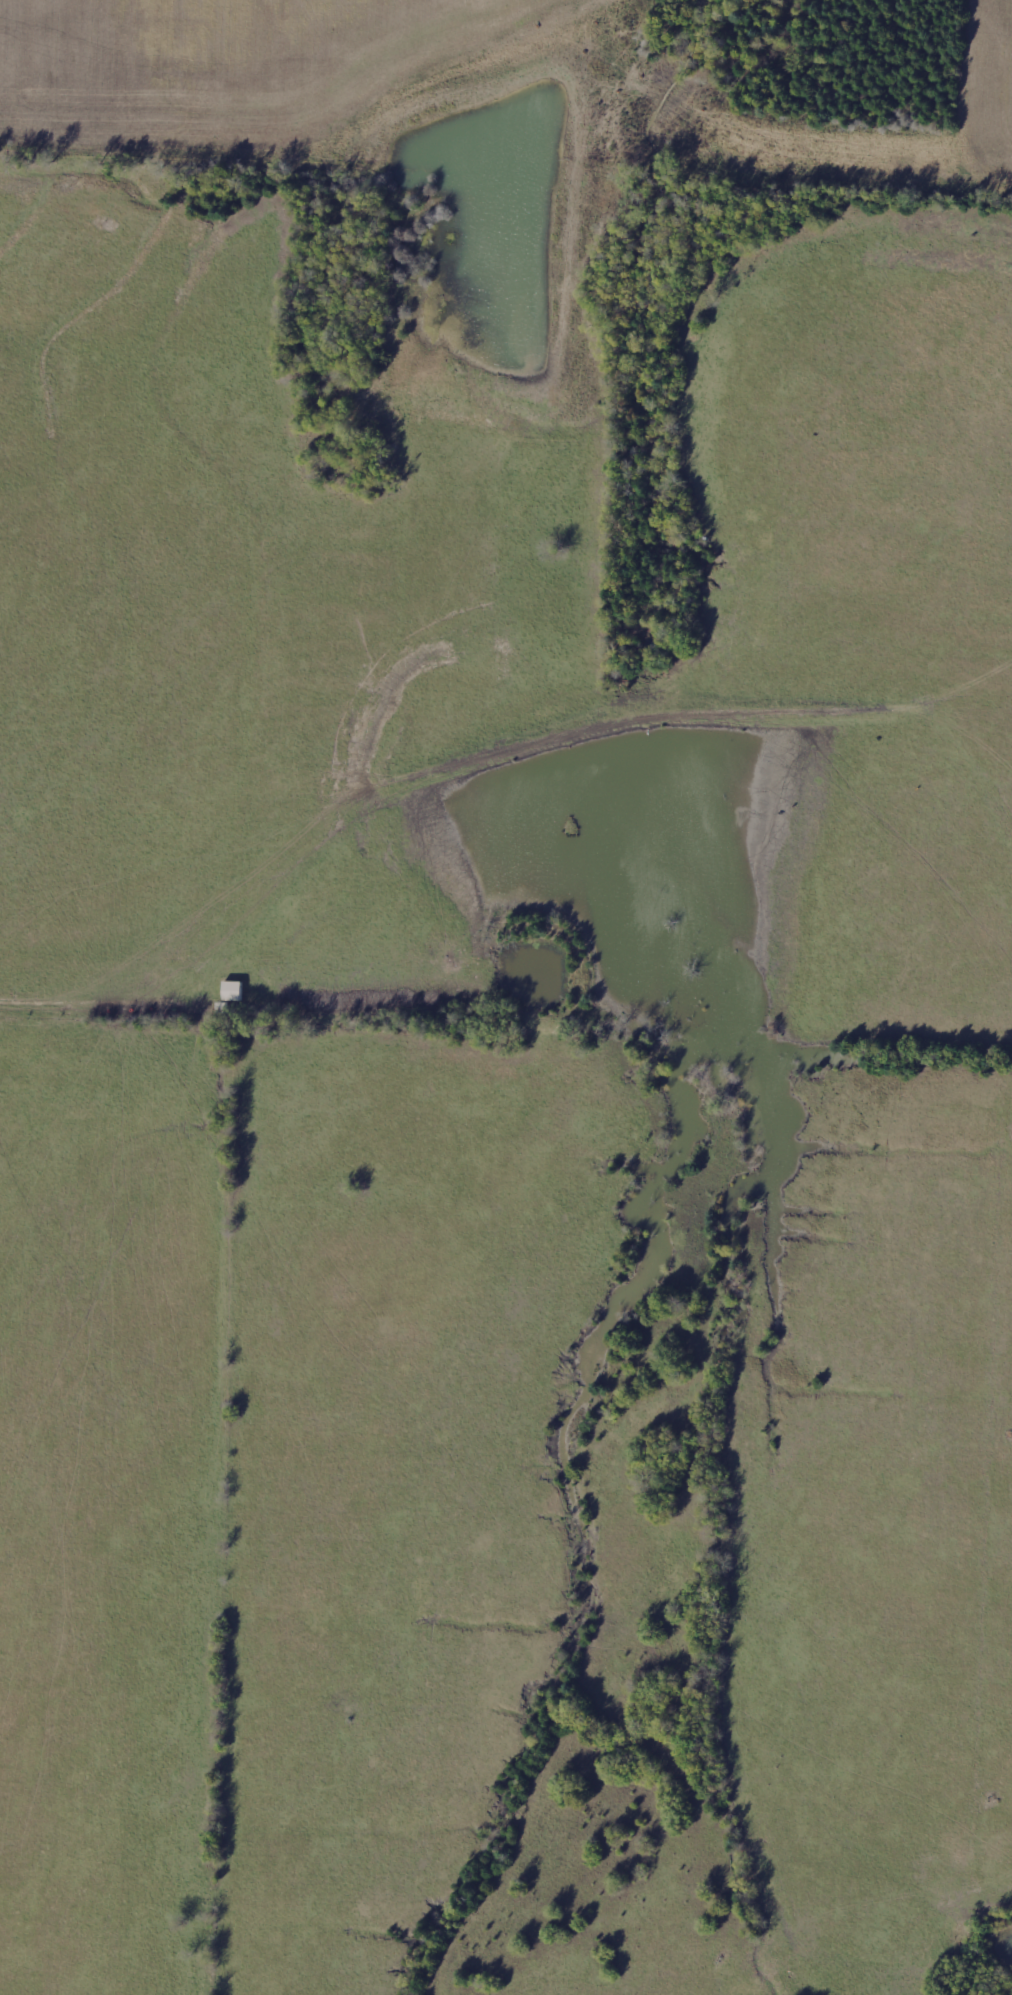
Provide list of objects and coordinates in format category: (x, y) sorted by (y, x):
road: (131, 561)
building: (234, 991)

